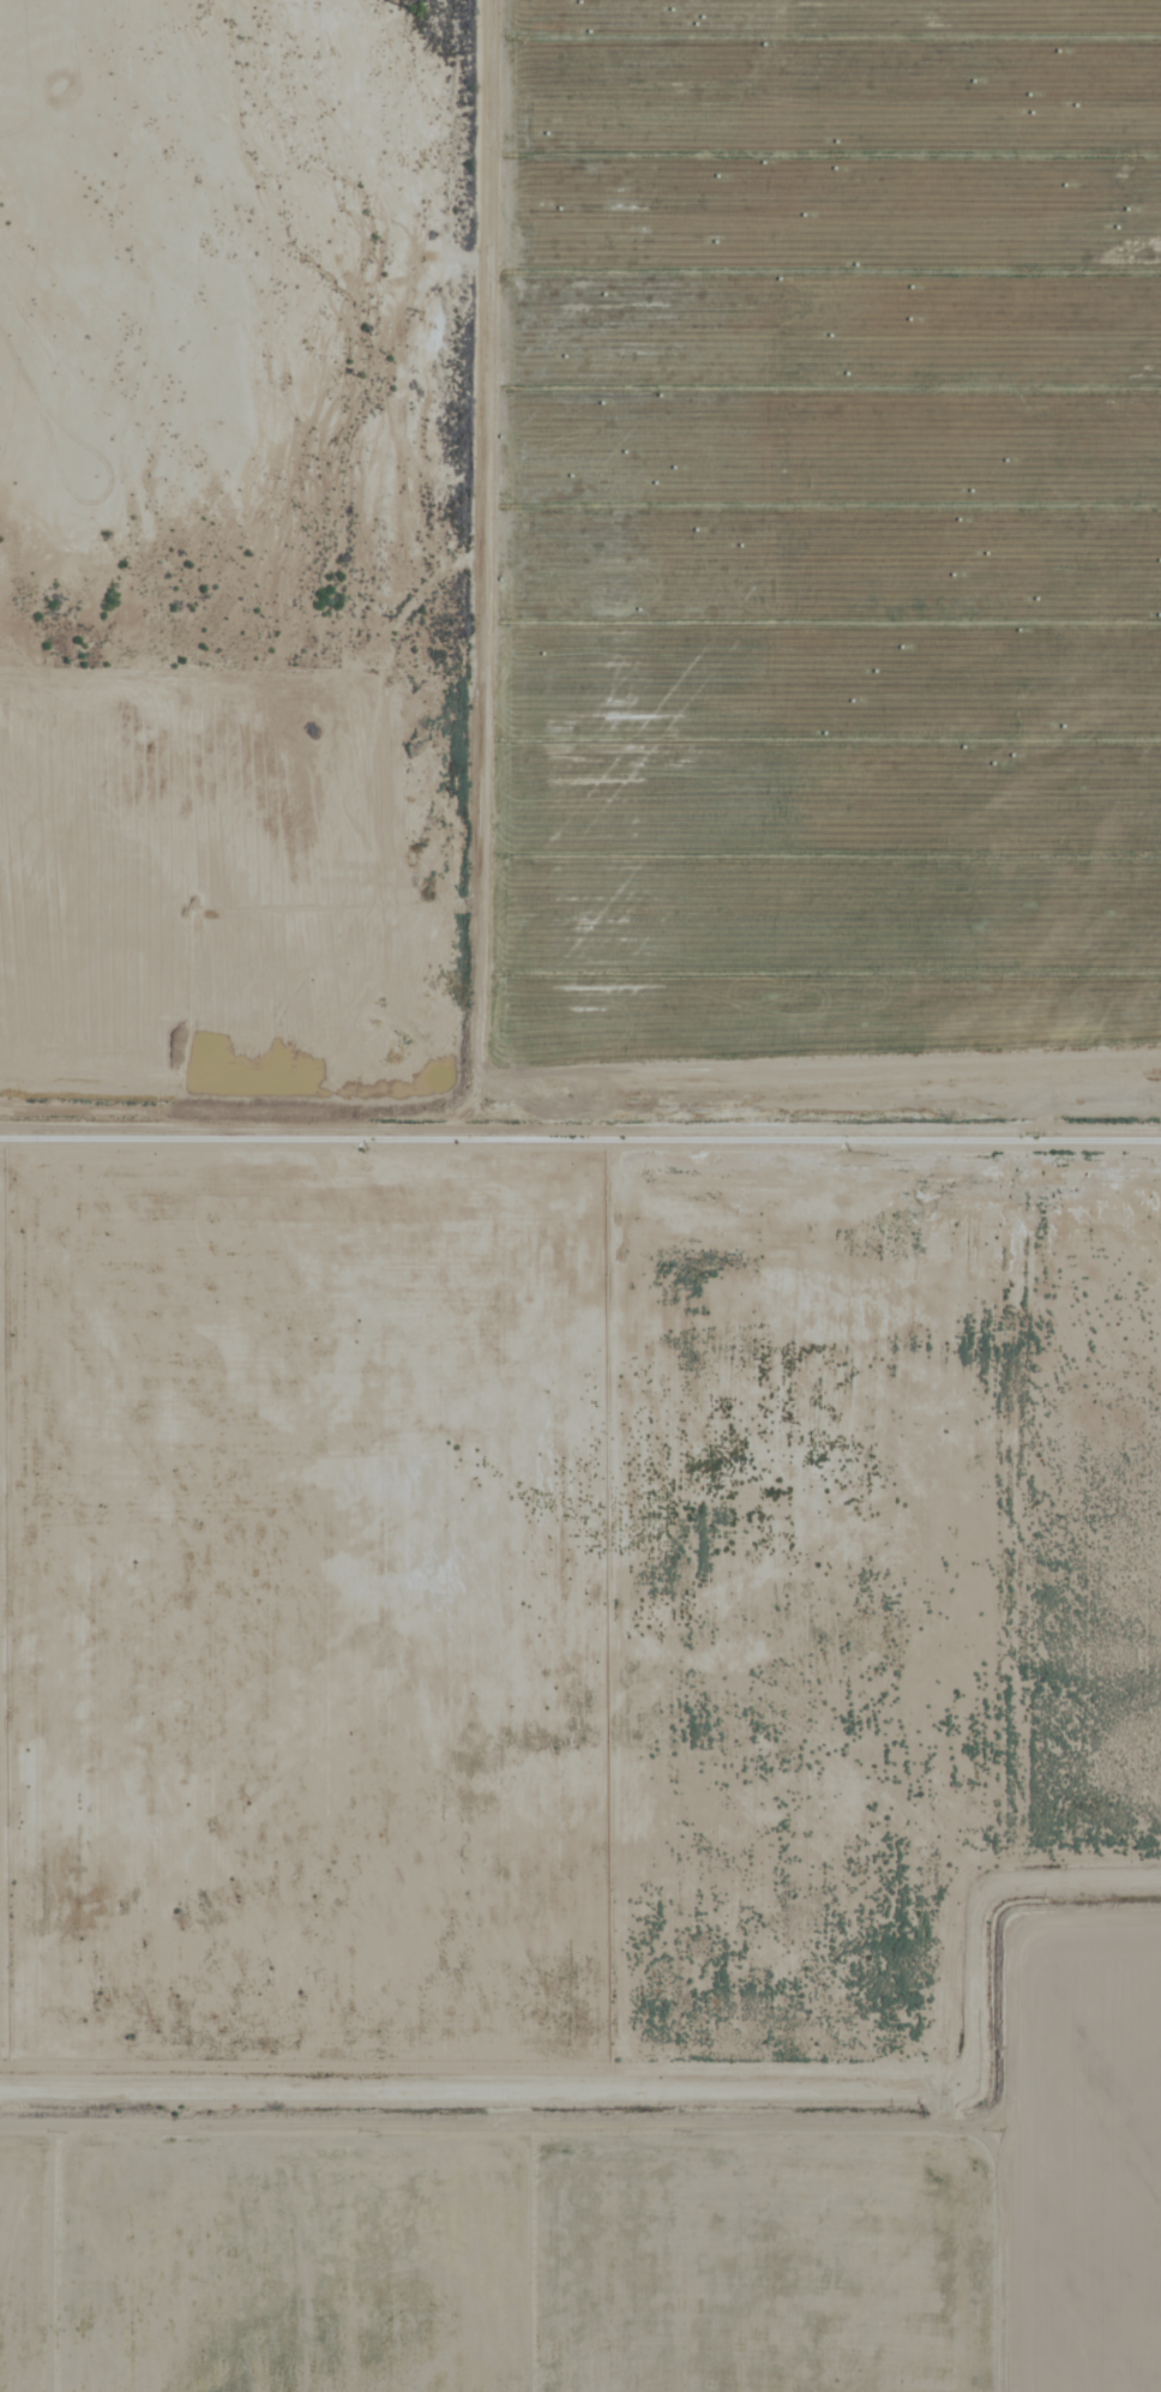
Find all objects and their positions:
crop: (660, 1341)

